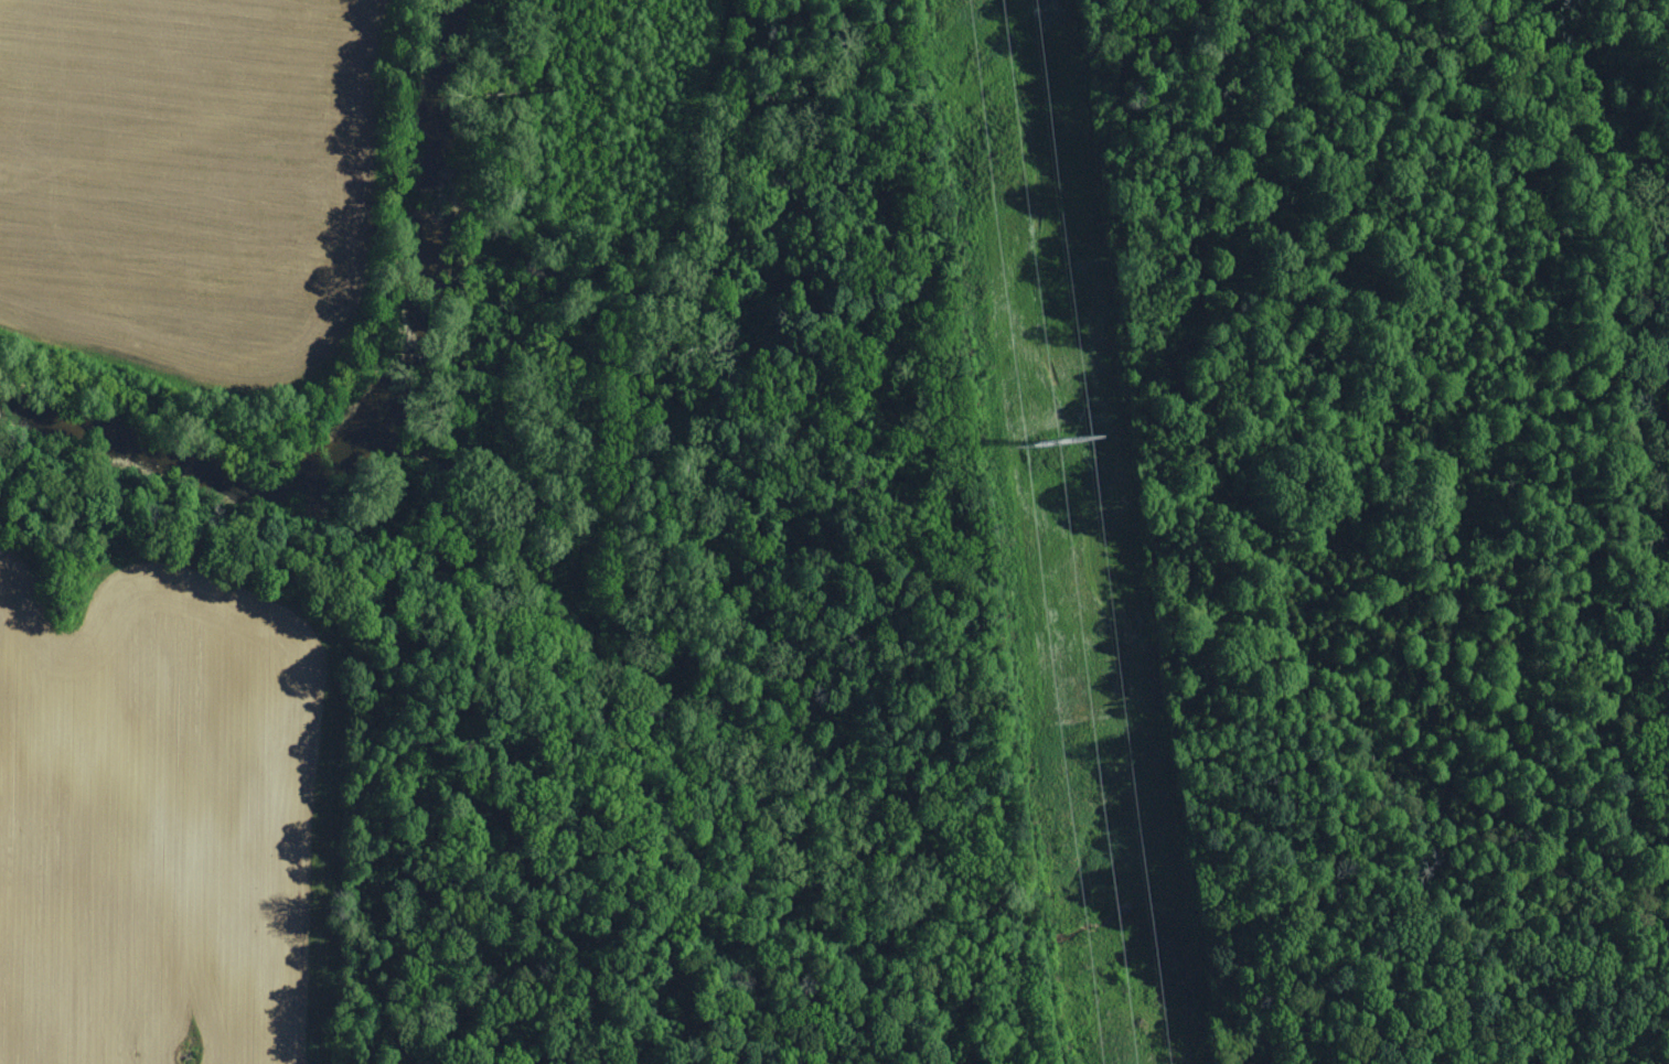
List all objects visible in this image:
power tower: (1057, 444)

